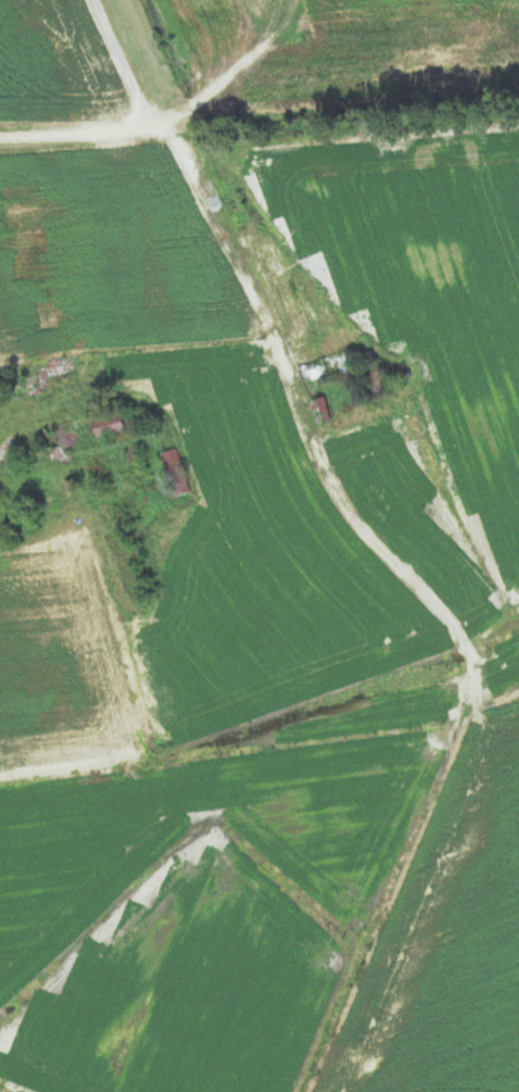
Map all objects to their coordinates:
road: (163, 123)
building: (320, 366)
building: (319, 411)
building: (51, 439)
building: (174, 473)

